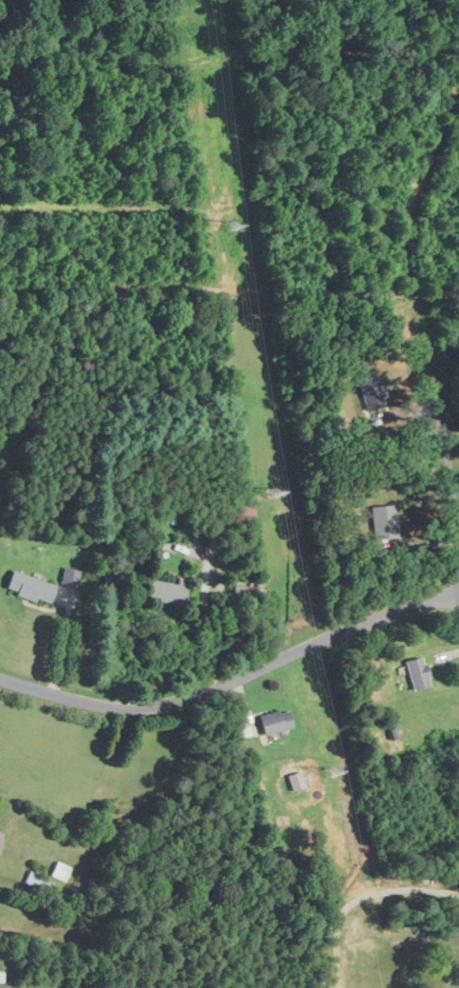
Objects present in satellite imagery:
power tower: (229, 221)
road: (446, 478)
power tower: (271, 489)
building: (70, 577)
road: (458, 579)
building: (31, 588)
building: (166, 593)
building: (418, 675)
road: (233, 676)
building: (275, 722)
power tower: (327, 768)
building: (1, 837)
building: (61, 872)
building: (34, 881)

